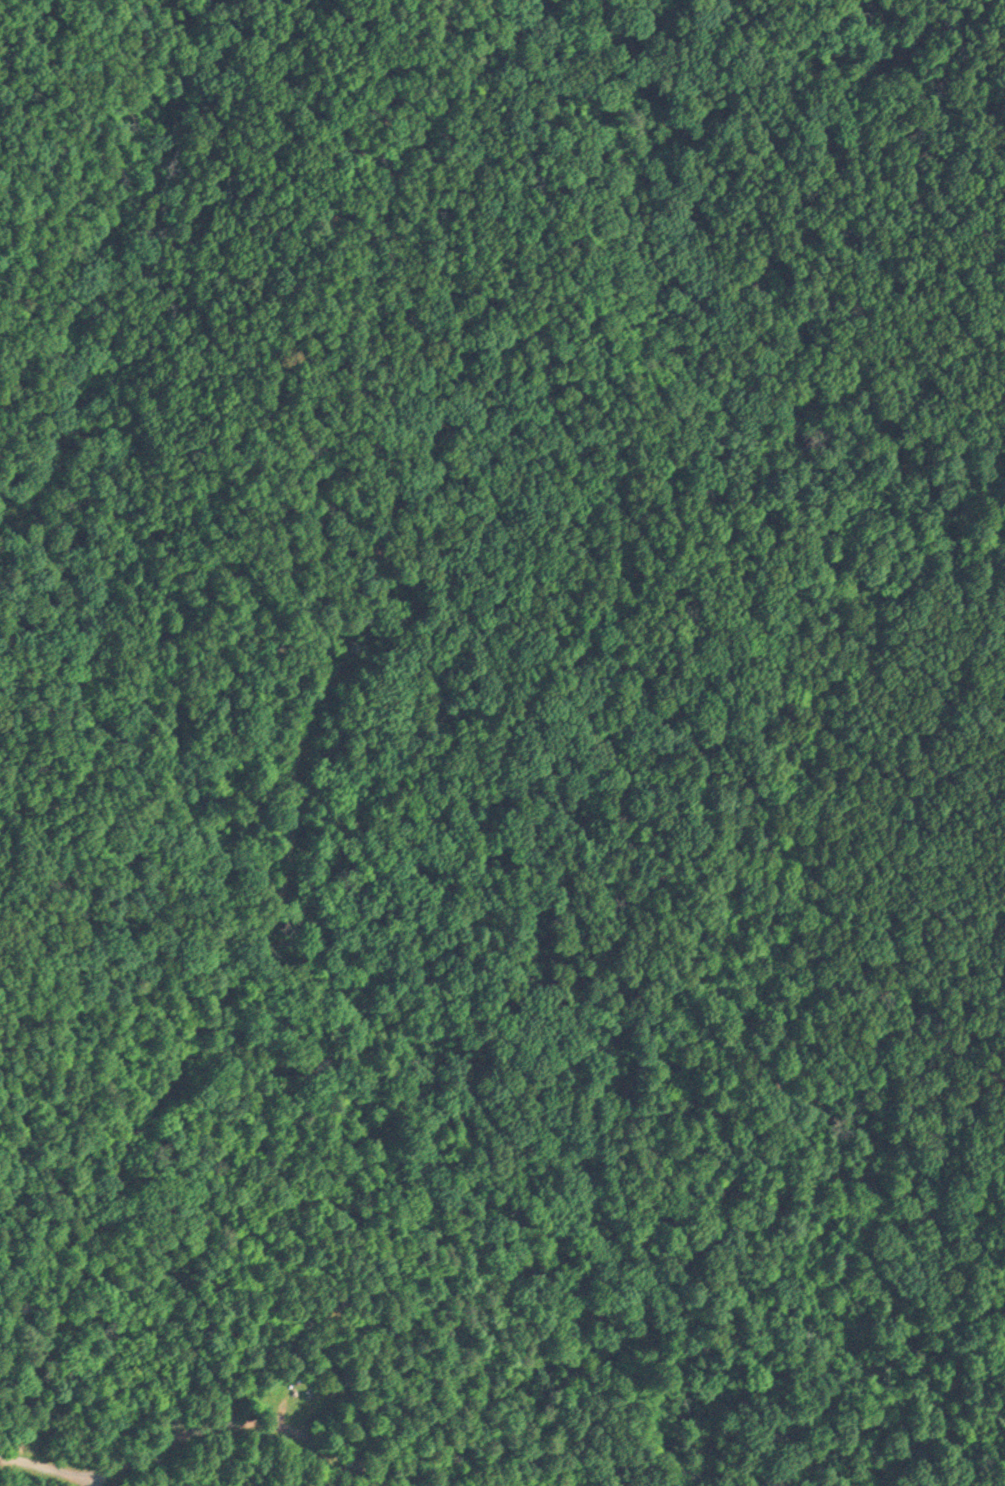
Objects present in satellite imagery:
road: (308, 718)
road: (232, 1434)
road: (37, 1474)

